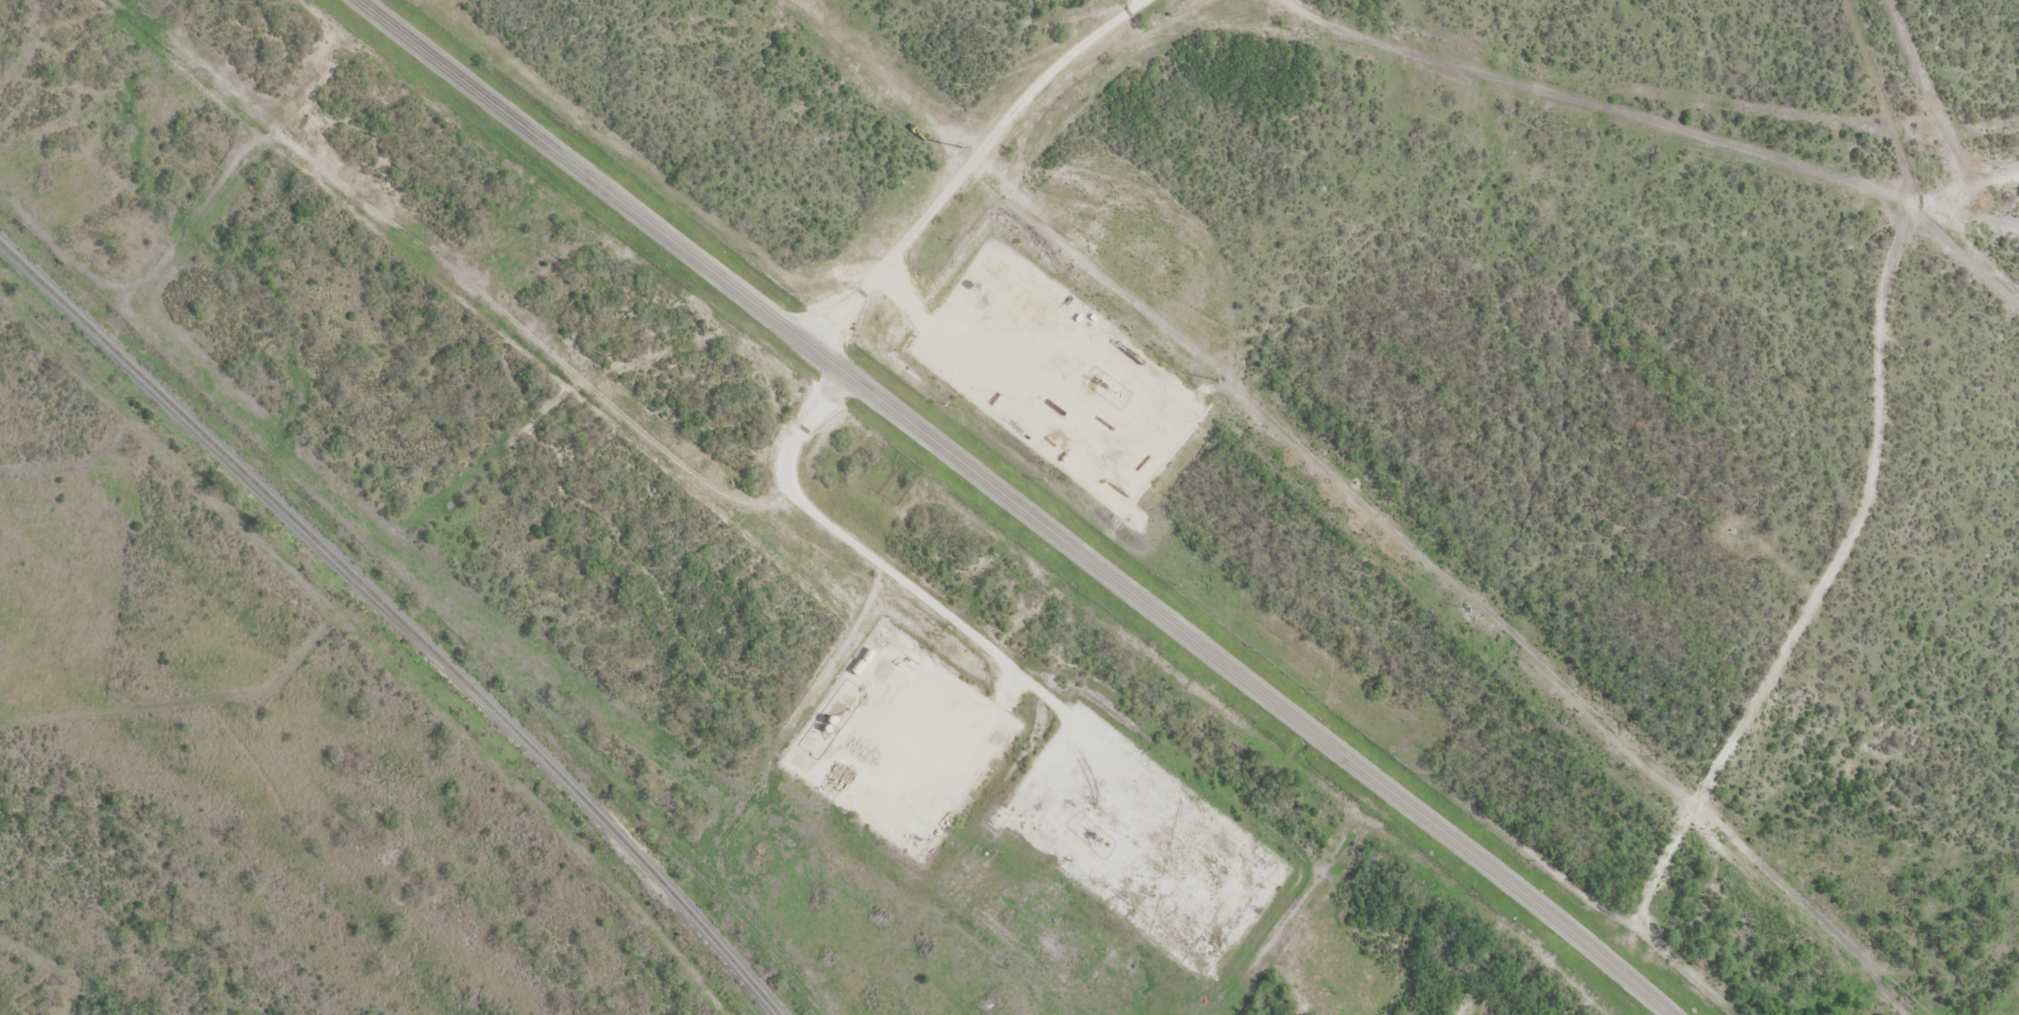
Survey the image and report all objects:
power tower: (966, 150)
road: (969, 162)
road: (976, 366)
power tower: (1216, 376)
road: (1017, 505)
road: (1839, 551)
power tower: (1466, 603)
railway: (398, 618)
power tower: (1718, 835)

